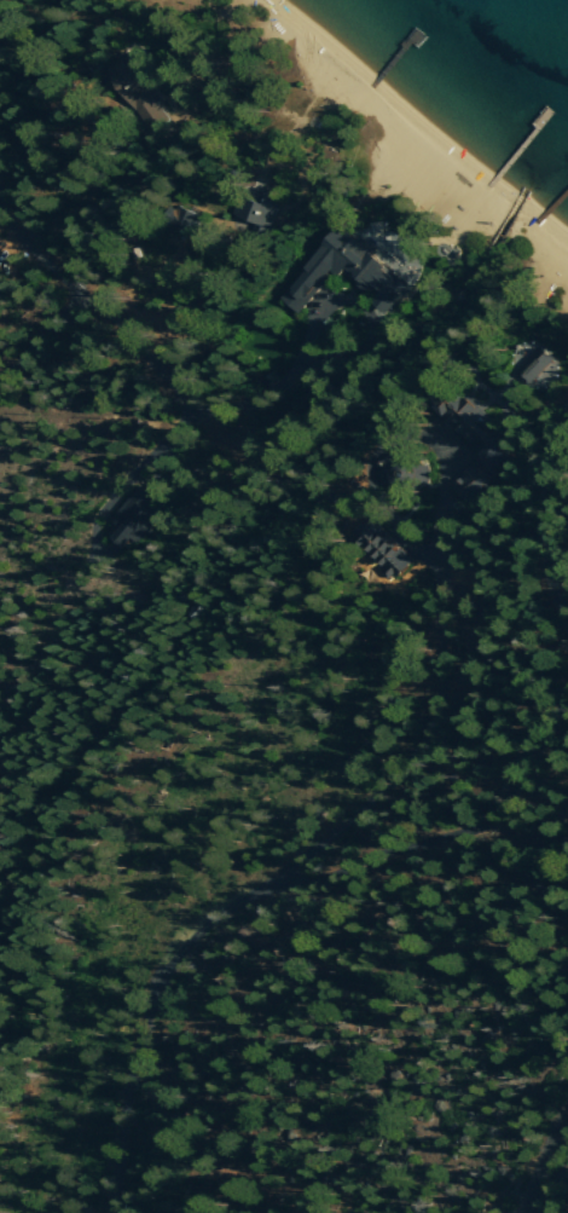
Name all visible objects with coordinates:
pier: (395, 53)
building: (138, 89)
pier: (517, 145)
pier: (556, 198)
road: (132, 207)
building: (256, 207)
road: (104, 208)
road: (42, 248)
building: (398, 254)
building: (353, 273)
road: (40, 333)
road: (335, 351)
road: (135, 353)
building: (534, 370)
building: (473, 420)
building: (486, 469)
road: (147, 475)
building: (137, 516)
road: (557, 530)
road: (437, 600)
road: (450, 833)
road: (139, 1023)
road: (539, 1160)

